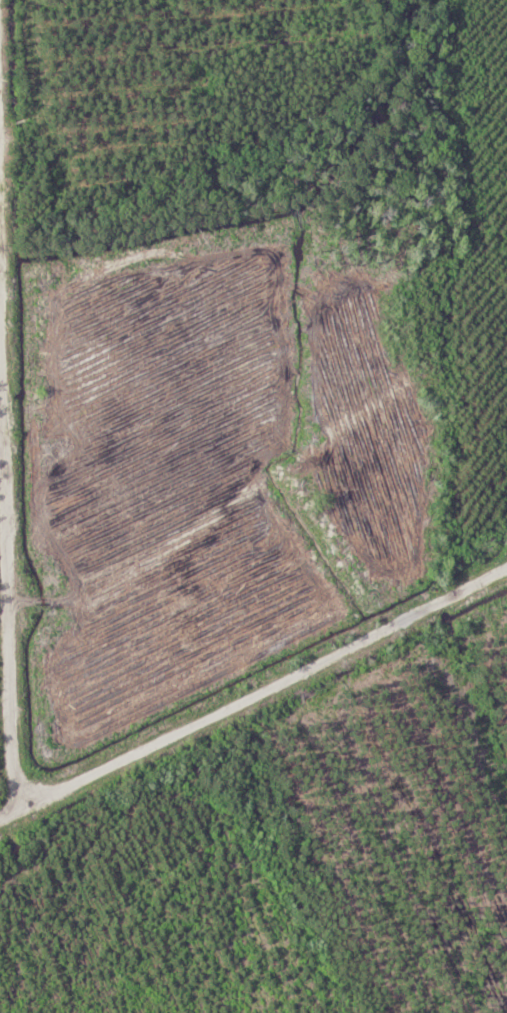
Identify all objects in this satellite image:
road: (11, 619)
road: (254, 700)

